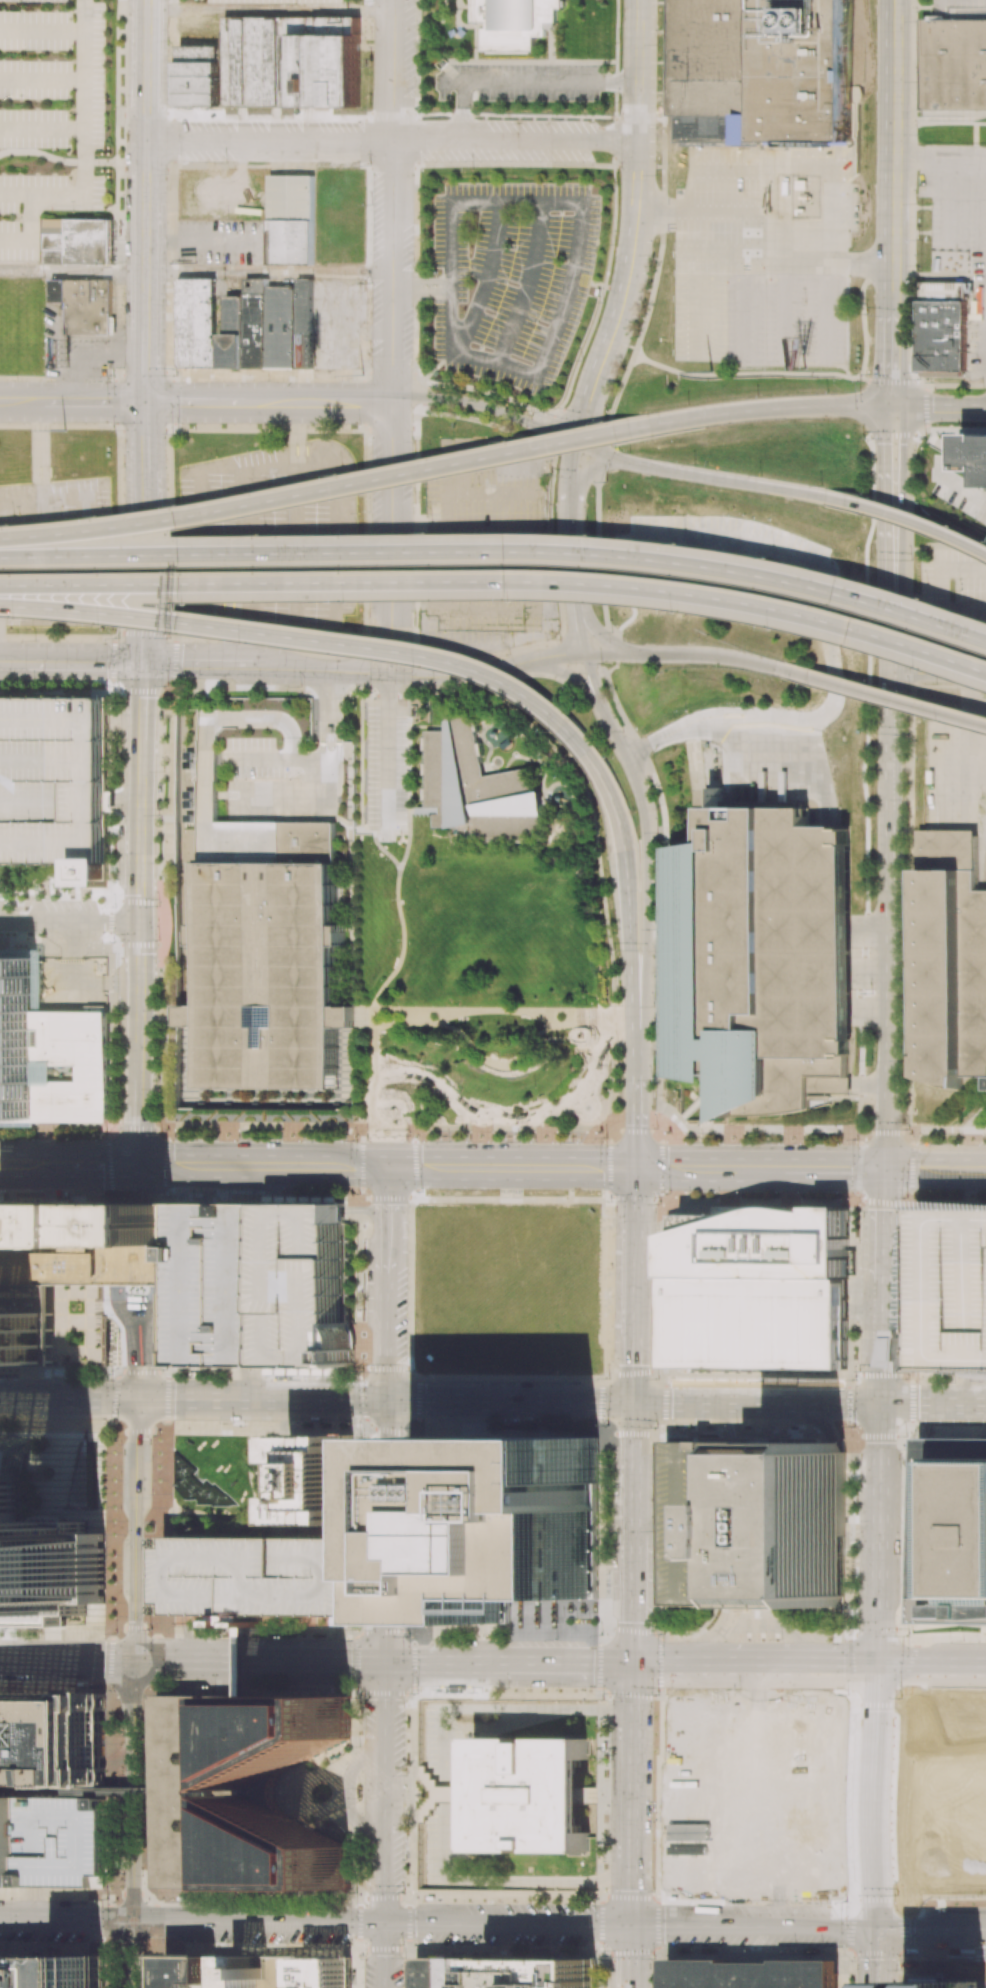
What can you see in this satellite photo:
road: (640, 0)
parking lot: (273, 1)
road: (893, 3)
road: (270, 10)
street lamp: (916, 20)
building: (514, 23)
road: (43, 32)
street lamp: (656, 41)
street lamp: (618, 42)
building: (270, 61)
building: (954, 64)
building: (768, 71)
road: (43, 80)
road: (529, 81)
road: (621, 81)
road: (452, 82)
parking lot: (525, 82)
street lamp: (915, 82)
street lamp: (617, 98)
road: (639, 106)
street lamp: (655, 111)
road: (462, 114)
parking lot: (49, 116)
road: (42, 130)
street lamp: (916, 135)
road: (393, 139)
road: (891, 155)
road: (62, 160)
road: (87, 163)
parking lot: (387, 163)
road: (146, 169)
street lamp: (654, 172)
street lamp: (616, 184)
road: (16, 195)
road: (146, 200)
street lamp: (915, 202)
road: (948, 215)
building: (291, 219)
road: (781, 219)
parking lot: (960, 232)
building: (76, 239)
street lamp: (613, 243)
street lamp: (651, 252)
parking lot: (764, 253)
street lamp: (916, 268)
road: (73, 270)
road: (269, 271)
parking lot: (509, 279)
road: (486, 280)
road: (421, 281)
road: (527, 286)
road: (421, 290)
street lamp: (602, 302)
building: (85, 305)
street lamp: (637, 318)
building: (245, 326)
road: (615, 330)
road: (392, 334)
building: (942, 335)
road: (548, 341)
road: (890, 356)
street lamp: (581, 360)
parking lot: (92, 364)
power tower: (711, 373)
street lamp: (113, 374)
street lamp: (175, 375)
traffic signals: (890, 375)
street lamp: (614, 377)
street lamp: (15, 379)
street lamp: (919, 379)
street lamp: (860, 381)
street lamp: (827, 391)
street lamp: (758, 395)
road: (20, 401)
road: (93, 402)
traffic signals: (145, 402)
road: (268, 403)
street lamp: (690, 403)
road: (489, 407)
traffic signals: (933, 407)
road: (938, 407)
traffic signals: (588, 408)
street lamp: (545, 409)
street lamp: (604, 419)
street lamp: (611, 422)
road: (59, 425)
power tower: (66, 429)
street lamp: (112, 430)
street lamp: (169, 430)
street lamp: (925, 436)
street lamp: (863, 439)
street lamp: (509, 442)
traffic signals: (882, 443)
traffic signals: (902, 443)
street lamp: (629, 452)
road: (144, 453)
building: (973, 457)
traffic signals: (623, 462)
street lamp: (694, 464)
road: (576, 465)
street lamp: (549, 473)
street lamp: (341, 475)
street lamp: (761, 475)
street lamp: (602, 477)
street lamp: (823, 486)
street lamp: (908, 492)
street lamp: (871, 493)
road: (40, 506)
street lamp: (177, 507)
street lamp: (101, 517)
street lamp: (552, 517)
street lamp: (585, 521)
street lamp: (11, 526)
street lamp: (954, 526)
road: (900, 531)
street lamp: (432, 534)
street lamp: (263, 536)
street lamp: (596, 536)
parking lot: (268, 540)
parking lot: (484, 540)
road: (144, 541)
road: (571, 543)
street lamp: (687, 545)
parking lot: (54, 553)
street lamp: (868, 557)
street lamp: (775, 559)
street lamp: (911, 559)
street lamp: (518, 600)
street lamp: (929, 600)
street lamp: (351, 601)
street lamp: (187, 602)
street lamp: (679, 610)
street lamp: (17, 617)
road: (144, 622)
street lamp: (103, 624)
street lamp: (775, 626)
road: (579, 628)
street lamp: (612, 632)
street lamp: (116, 636)
street lamp: (167, 637)
street lamp: (559, 638)
street lamp: (698, 638)
road: (606, 639)
street lamp: (34, 640)
street lamp: (244, 642)
street lamp: (507, 652)
road: (618, 655)
road: (696, 656)
road: (14, 664)
road: (85, 664)
street lamp: (601, 664)
traffic signals: (143, 665)
road: (198, 665)
street lamp: (419, 665)
road: (486, 665)
road: (321, 667)
road: (772, 667)
street lamp: (923, 667)
road: (937, 673)
road: (490, 675)
road: (566, 675)
street lamp: (873, 679)
street lamp: (115, 683)
street lamp: (427, 683)
street lamp: (167, 685)
street lamp: (299, 685)
street lamp: (810, 685)
street lamp: (907, 690)
road: (388, 696)
road: (895, 699)
road: (142, 719)
street lamp: (941, 720)
road: (968, 720)
street lamp: (546, 725)
street lamp: (622, 730)
road: (704, 730)
street lamp: (159, 764)
road: (387, 766)
road: (949, 767)
parking lot: (387, 768)
road: (977, 768)
building: (284, 781)
parking garage: (284, 781)
road: (888, 783)
building: (52, 784)
parking lot: (52, 784)
road: (605, 785)
building: (478, 787)
street lamp: (871, 800)
street lamp: (903, 800)
street lamp: (158, 813)
street lamp: (121, 820)
street lamp: (659, 832)
road: (650, 837)
building: (946, 837)
street lamp: (602, 849)
street lamp: (871, 860)
street lamp: (900, 861)
railway: (983, 866)
street lamp: (48, 898)
street lamp: (114, 906)
street lamp: (158, 906)
road: (140, 919)
street lamp: (611, 920)
road: (69, 922)
traffic signals: (140, 923)
street lamp: (655, 925)
street lamp: (900, 930)
road: (628, 936)
street lamp: (158, 939)
street lamp: (112, 941)
building: (759, 956)
building: (950, 965)
building: (263, 971)
street lamp: (867, 992)
park: (486, 995)
street lamp: (901, 995)
street lamp: (619, 1005)
street lamp: (654, 1006)
street lamp: (155, 1007)
building: (18, 1028)
road: (886, 1039)
building: (849, 1052)
road: (636, 1053)
street lamp: (868, 1060)
street lamp: (900, 1062)
building: (74, 1064)
street lamp: (620, 1078)
building: (972, 1078)
street lamp: (651, 1081)
building: (826, 1084)
building: (711, 1087)
street lamp: (155, 1089)
flagpole: (670, 1093)
road: (713, 1093)
building: (817, 1097)
road: (695, 1103)
road: (138, 1115)
road: (636, 1121)
street lamp: (655, 1127)
street lamp: (906, 1131)
street lamp: (160, 1133)
street lamp: (605, 1136)
street lamp: (856, 1138)
street lamp: (570, 1141)
street lamp: (736, 1141)
road: (20, 1165)
road: (89, 1165)
traffic signals: (138, 1165)
road: (263, 1166)
traffic signals: (389, 1167)
road: (512, 1167)
traffic signals: (637, 1168)
road: (685, 1168)
road: (808, 1169)
traffic signals: (884, 1170)
road: (935, 1170)
street lamp: (905, 1197)
street lamp: (857, 1201)
street lamp: (658, 1204)
road: (883, 1225)
building: (87, 1243)
building: (217, 1283)
parking lot: (217, 1283)
road: (387, 1283)
building: (301, 1284)
parking lot: (301, 1284)
road: (635, 1285)
building: (758, 1288)
building: (951, 1288)
parking lot: (951, 1288)
road: (123, 1301)
building: (26, 1337)
road: (881, 1342)
road: (134, 1350)
road: (148, 1351)
road: (206, 1371)
road: (981, 1385)
road: (68, 1398)
traffic signals: (137, 1399)
road: (261, 1400)
traffic signals: (387, 1401)
road: (510, 1402)
traffic signals: (635, 1403)
road: (757, 1403)
traffic signals: (881, 1404)
road: (897, 1404)
road: (949, 1404)
road: (881, 1420)
road: (634, 1462)
road: (282, 1467)
park: (213, 1478)
building: (325, 1480)
building: (706, 1519)
parking garage: (706, 1519)
building: (504, 1523)
road: (135, 1529)
building: (802, 1529)
building: (952, 1530)
road: (386, 1531)
road: (334, 1534)
road: (880, 1551)
building: (43, 1560)
building: (262, 1578)
parking lot: (262, 1578)
road: (634, 1593)
road: (66, 1660)
traffic signals: (134, 1661)
road: (259, 1662)
traffic signals: (386, 1663)
road: (490, 1663)
road: (614, 1664)
traffic signals: (634, 1665)
road: (756, 1665)
traffic signals: (880, 1666)
road: (933, 1666)
road: (860, 1699)
building: (51, 1744)
road: (384, 1792)
road: (896, 1792)
road: (351, 1794)
road: (632, 1794)
park: (754, 1794)
road: (4, 1795)
building: (242, 1795)
parking lot: (443, 1795)
building: (530, 1795)
park: (944, 1795)
road: (859, 1800)
road: (291, 1817)
road: (134, 1824)
road: (878, 1827)
building: (59, 1843)
parking lot: (59, 1843)
building: (4, 1848)
road: (896, 1893)
road: (491, 1897)
road: (876, 1899)
traffic signals: (134, 1921)
road: (191, 1922)
traffic signals: (384, 1923)
road: (507, 1923)
traffic signals: (632, 1924)
road: (738, 1925)
traffic signals: (877, 1926)
road: (881, 1926)
road: (952, 1926)
road: (383, 1955)
road: (631, 1956)
building: (51, 1971)
building: (234, 1971)
building: (326, 1972)
building: (505, 1973)
building: (751, 1973)
building: (947, 1984)

